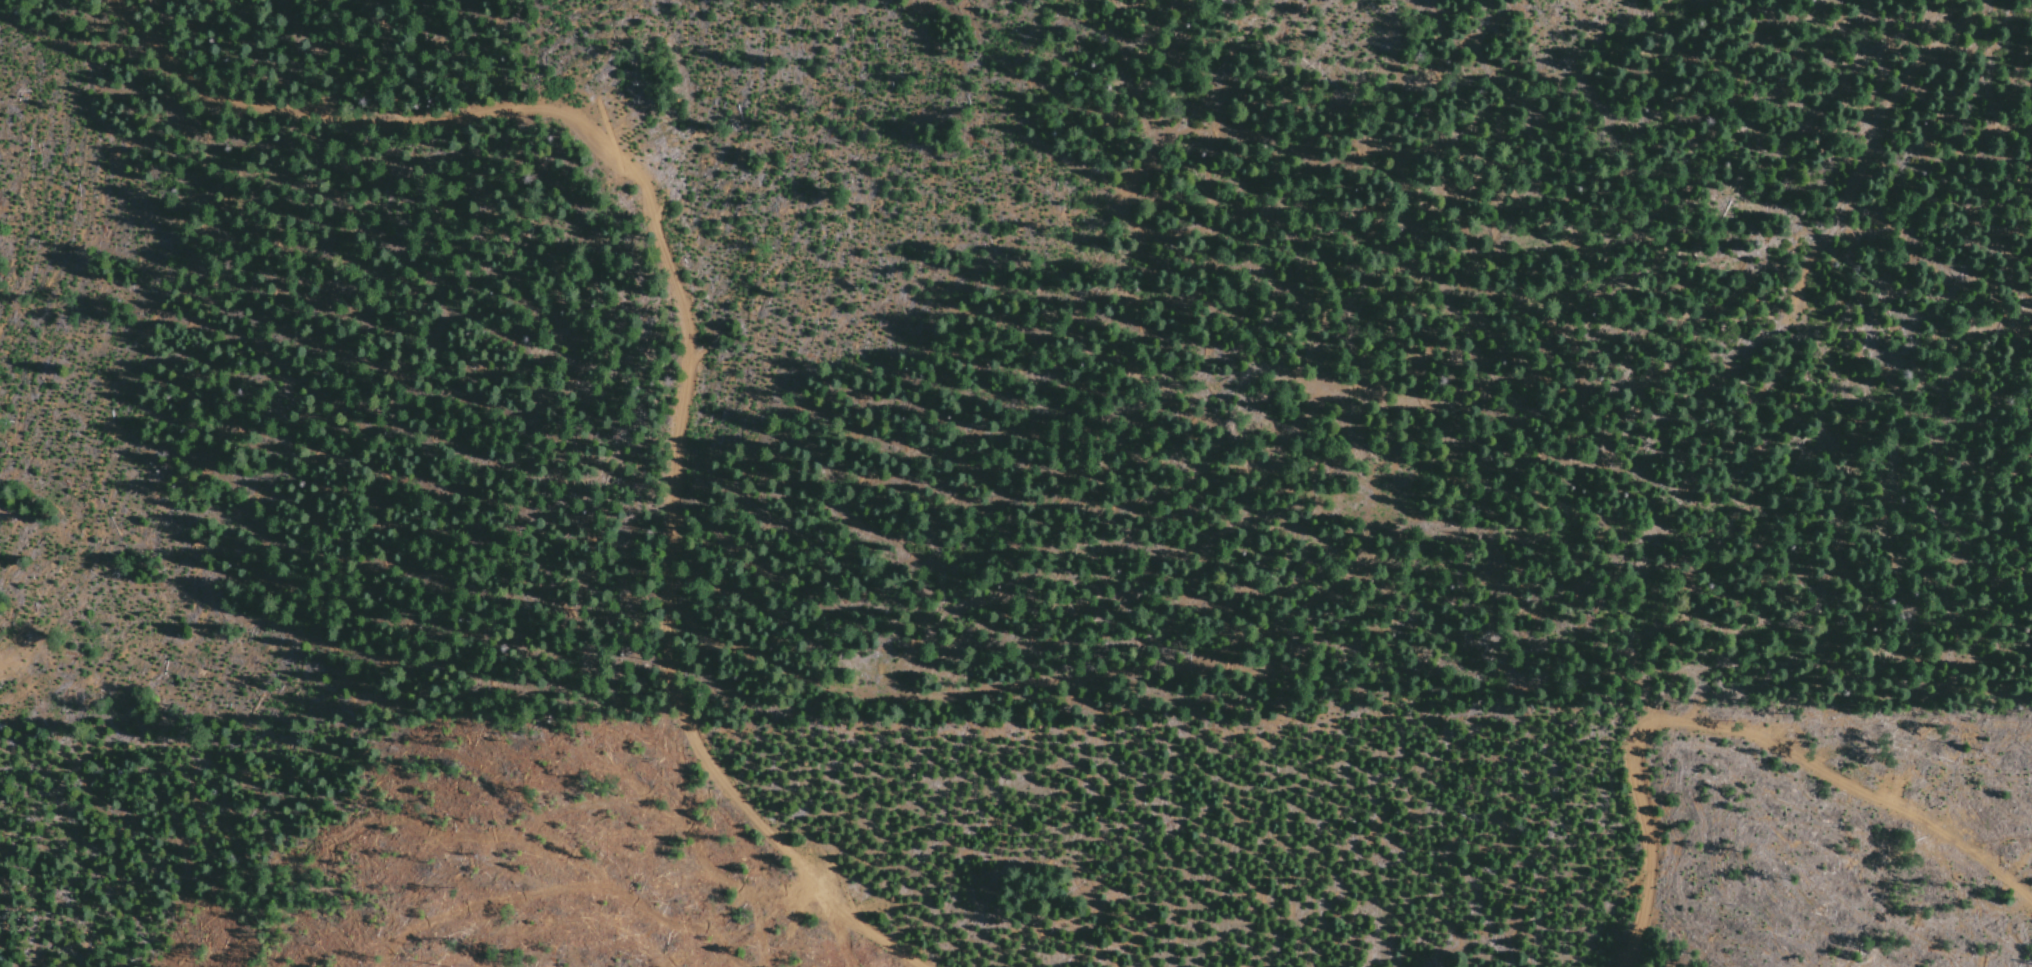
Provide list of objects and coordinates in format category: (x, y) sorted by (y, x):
road: (689, 337)
road: (1624, 442)
road: (1373, 628)

